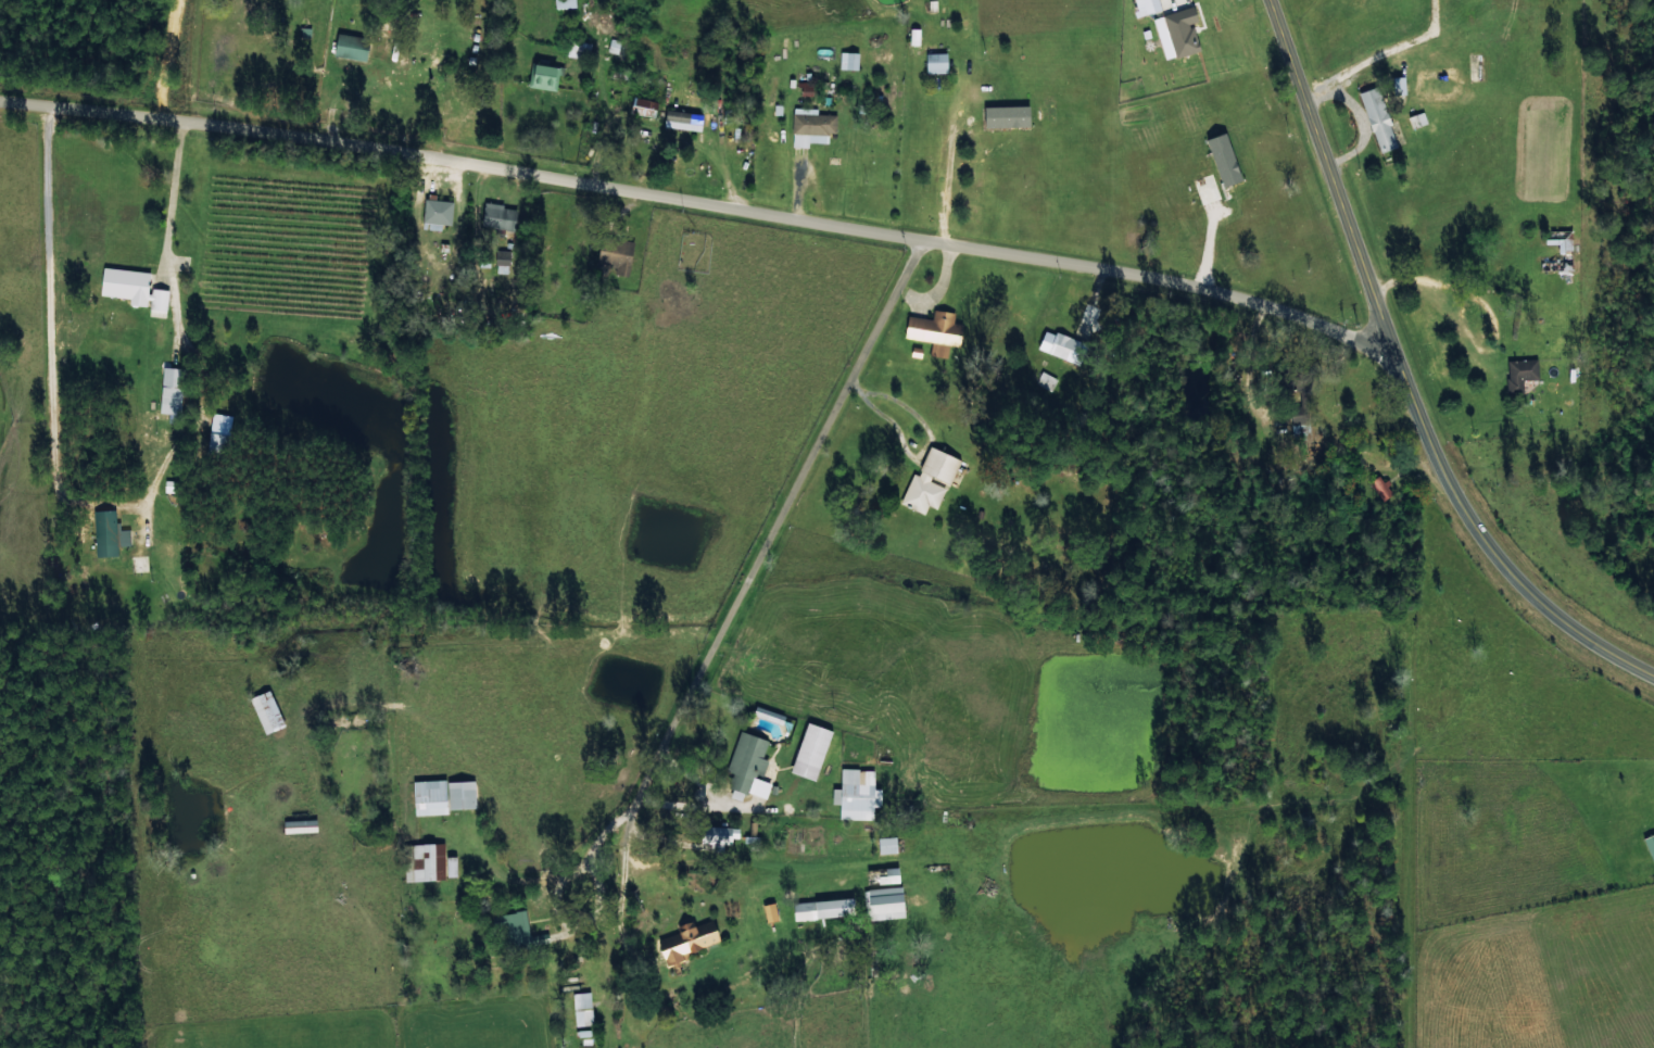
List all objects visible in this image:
building: (565, 3)
building: (1151, 5)
building: (1182, 30)
building: (913, 37)
building: (350, 48)
building: (848, 61)
building: (935, 61)
building: (544, 77)
building: (644, 106)
building: (1378, 119)
building: (1417, 119)
building: (683, 121)
road: (706, 201)
building: (437, 214)
building: (498, 218)
building: (1558, 251)
building: (617, 254)
building: (502, 262)
building: (135, 289)
building: (935, 332)
building: (1062, 346)
building: (1520, 373)
road: (1403, 378)
building: (172, 393)
building: (217, 443)
building: (930, 480)
building: (109, 532)
road: (759, 576)
building: (267, 711)
building: (811, 750)
building: (748, 766)
building: (857, 794)
building: (443, 796)
building: (718, 836)
building: (887, 845)
building: (1650, 845)
building: (425, 861)
building: (451, 866)
building: (882, 875)
building: (885, 902)
building: (823, 908)
building: (770, 911)
building: (514, 926)
building: (687, 942)
building: (582, 1008)

